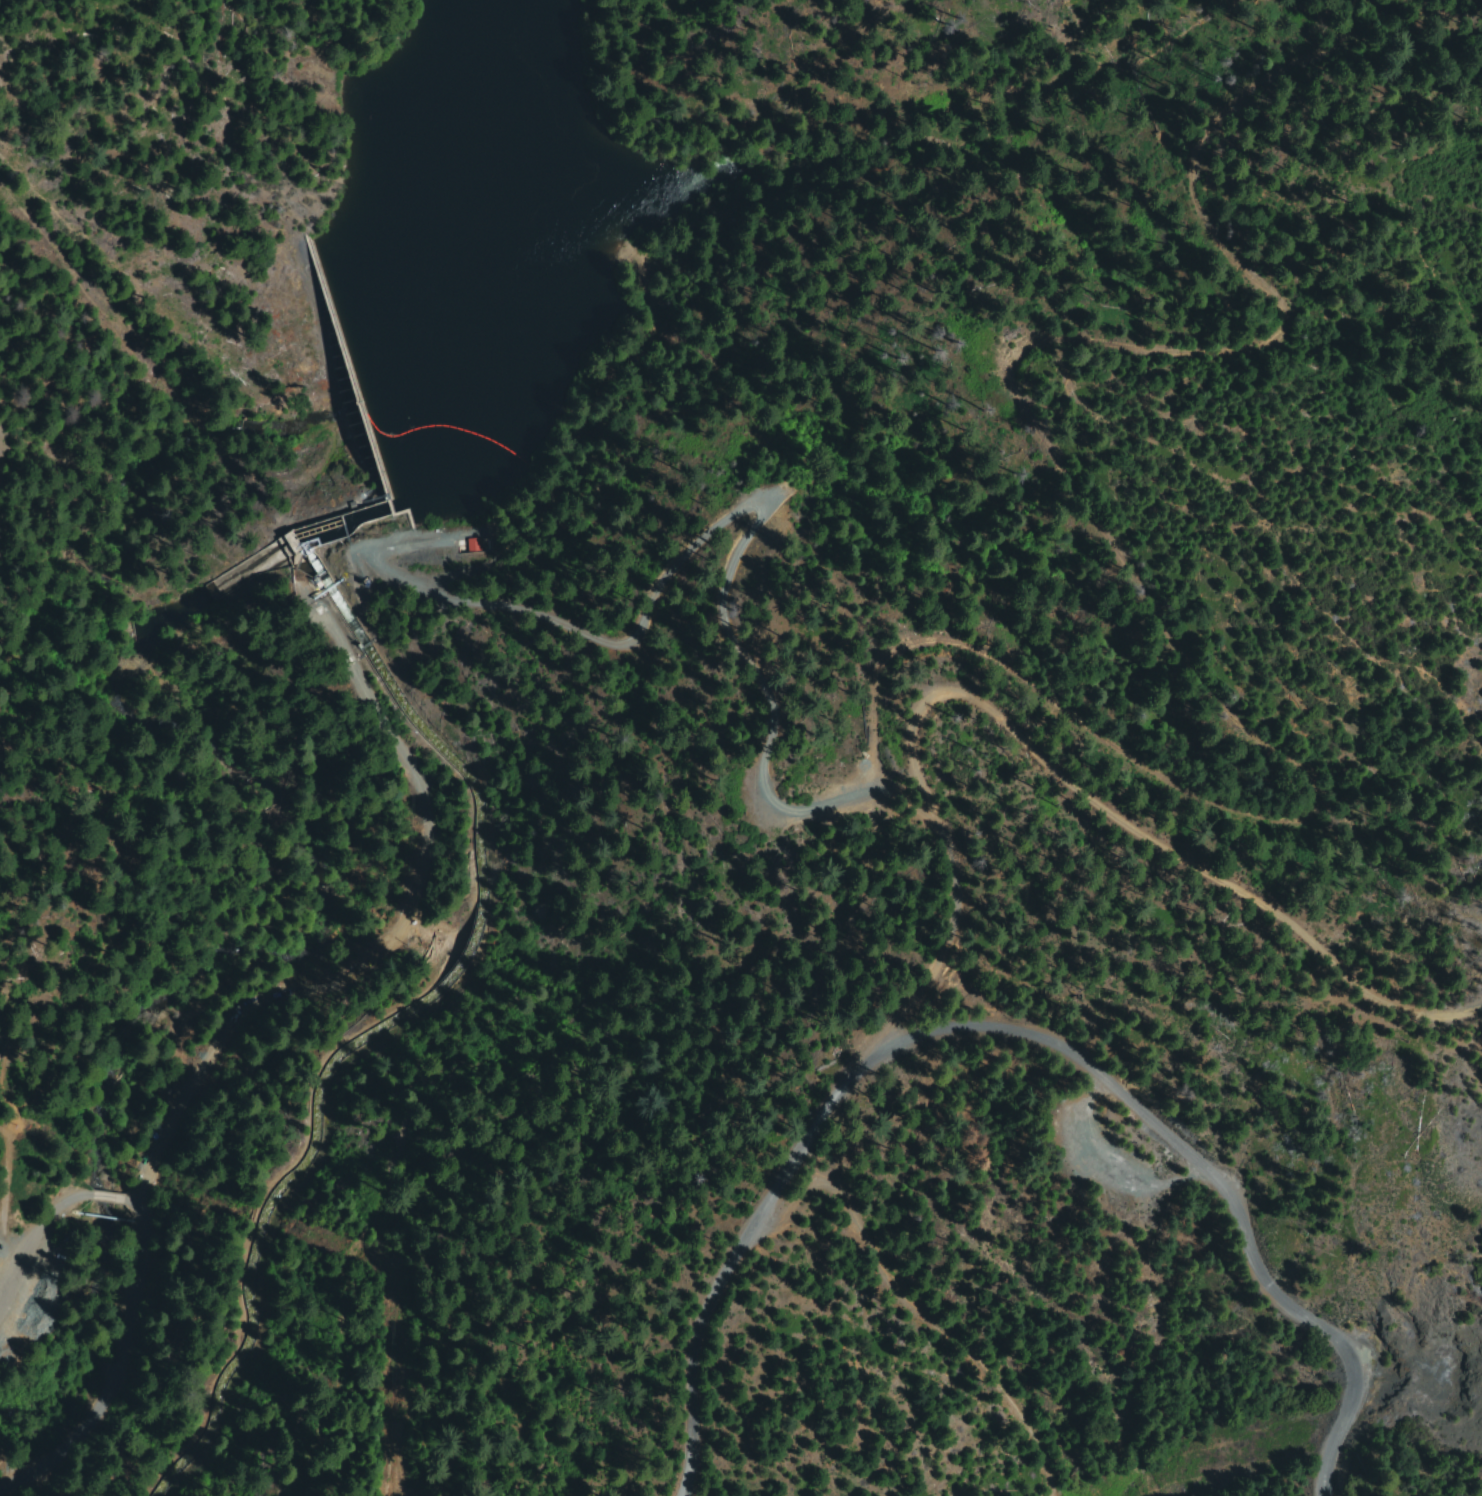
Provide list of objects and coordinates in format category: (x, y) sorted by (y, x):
dam: (347, 375)
road: (1106, 810)
road: (310, 980)
road: (1217, 1206)
road: (39, 1225)
road: (768, 1242)
road: (81, 1352)

